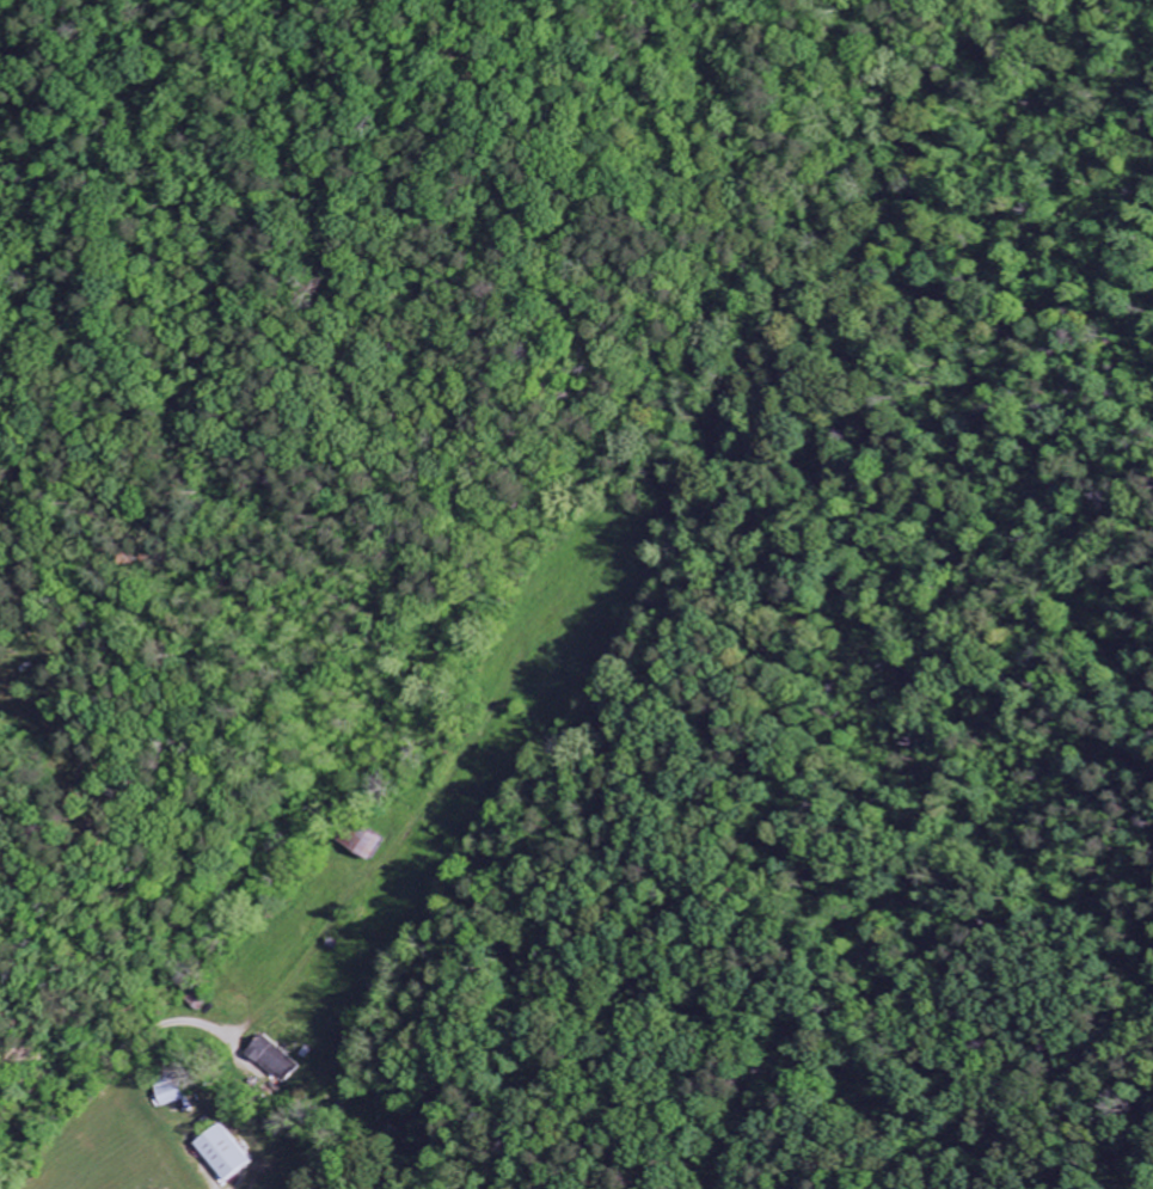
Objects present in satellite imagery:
building: (368, 845)
road: (16, 1043)
building: (272, 1059)
building: (170, 1096)
building: (220, 1153)

